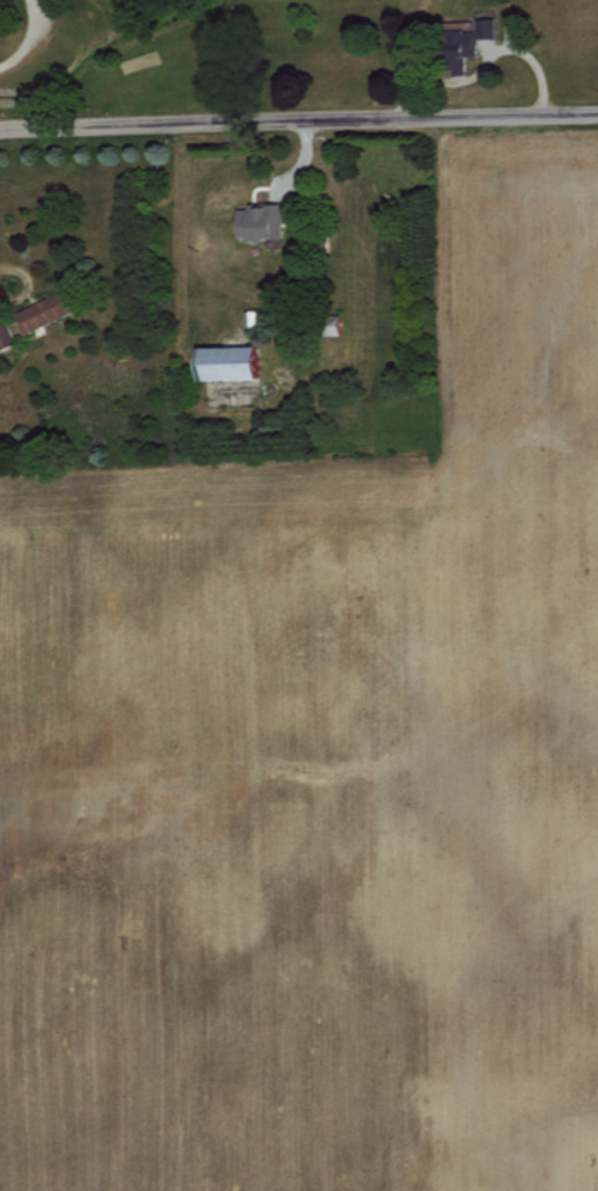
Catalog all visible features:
road: (26, 37)
road: (298, 124)
building: (261, 220)
road: (23, 280)
building: (42, 310)
building: (5, 333)
building: (225, 362)

